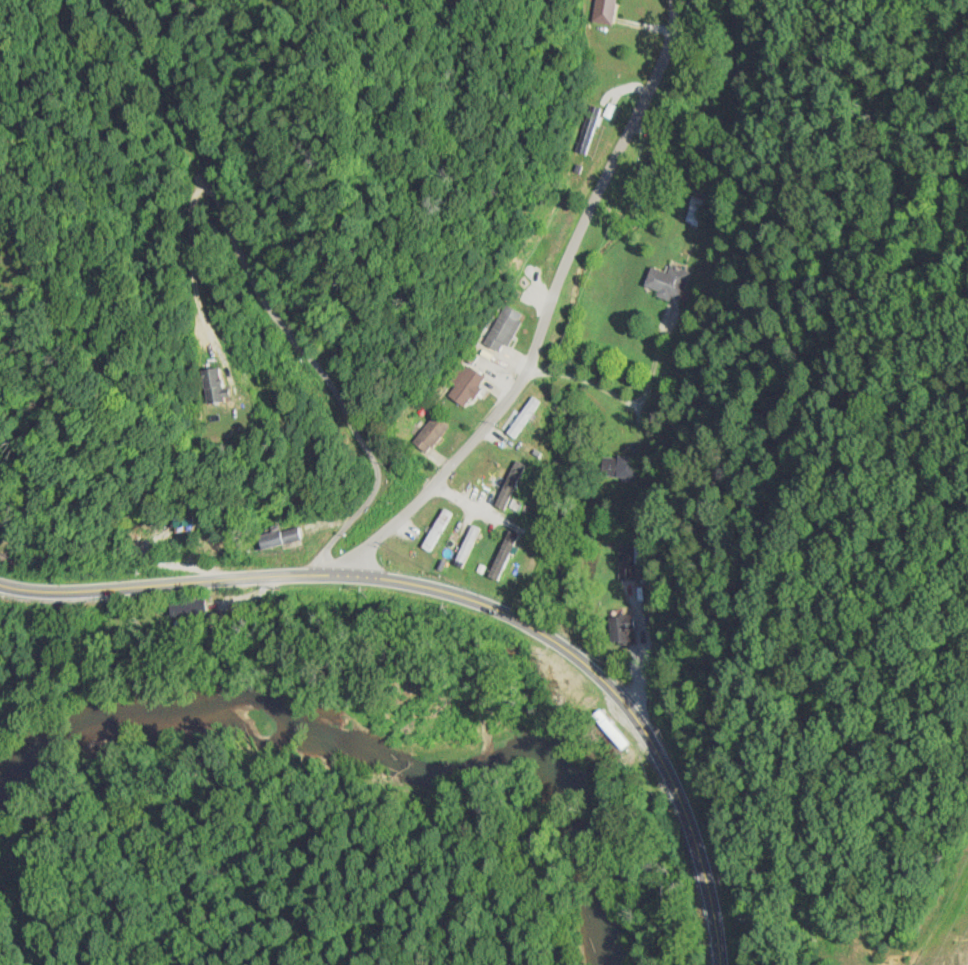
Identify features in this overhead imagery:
building: (603, 11)
building: (749, 71)
building: (588, 130)
building: (701, 206)
building: (669, 282)
road: (261, 292)
road: (543, 308)
building: (503, 328)
building: (204, 386)
building: (465, 387)
building: (523, 419)
building: (429, 434)
building: (621, 469)
building: (511, 486)
building: (436, 531)
building: (275, 538)
building: (467, 545)
building: (503, 557)
building: (630, 563)
road: (470, 597)
building: (623, 630)
building: (611, 730)
river: (375, 752)

